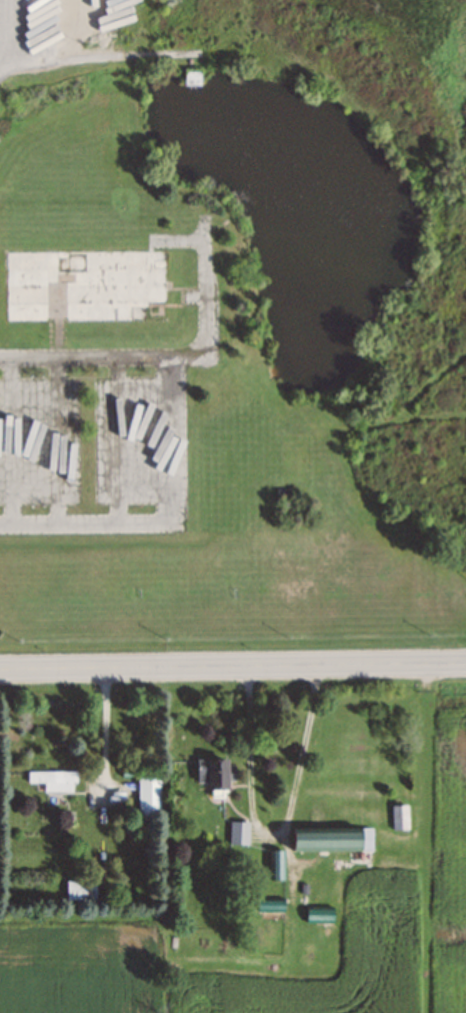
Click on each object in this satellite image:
building: (192, 76)
building: (85, 285)
road: (233, 666)
building: (212, 774)
building: (53, 780)
building: (148, 798)
building: (400, 818)
building: (332, 840)
building: (276, 865)
building: (80, 889)
building: (270, 906)

